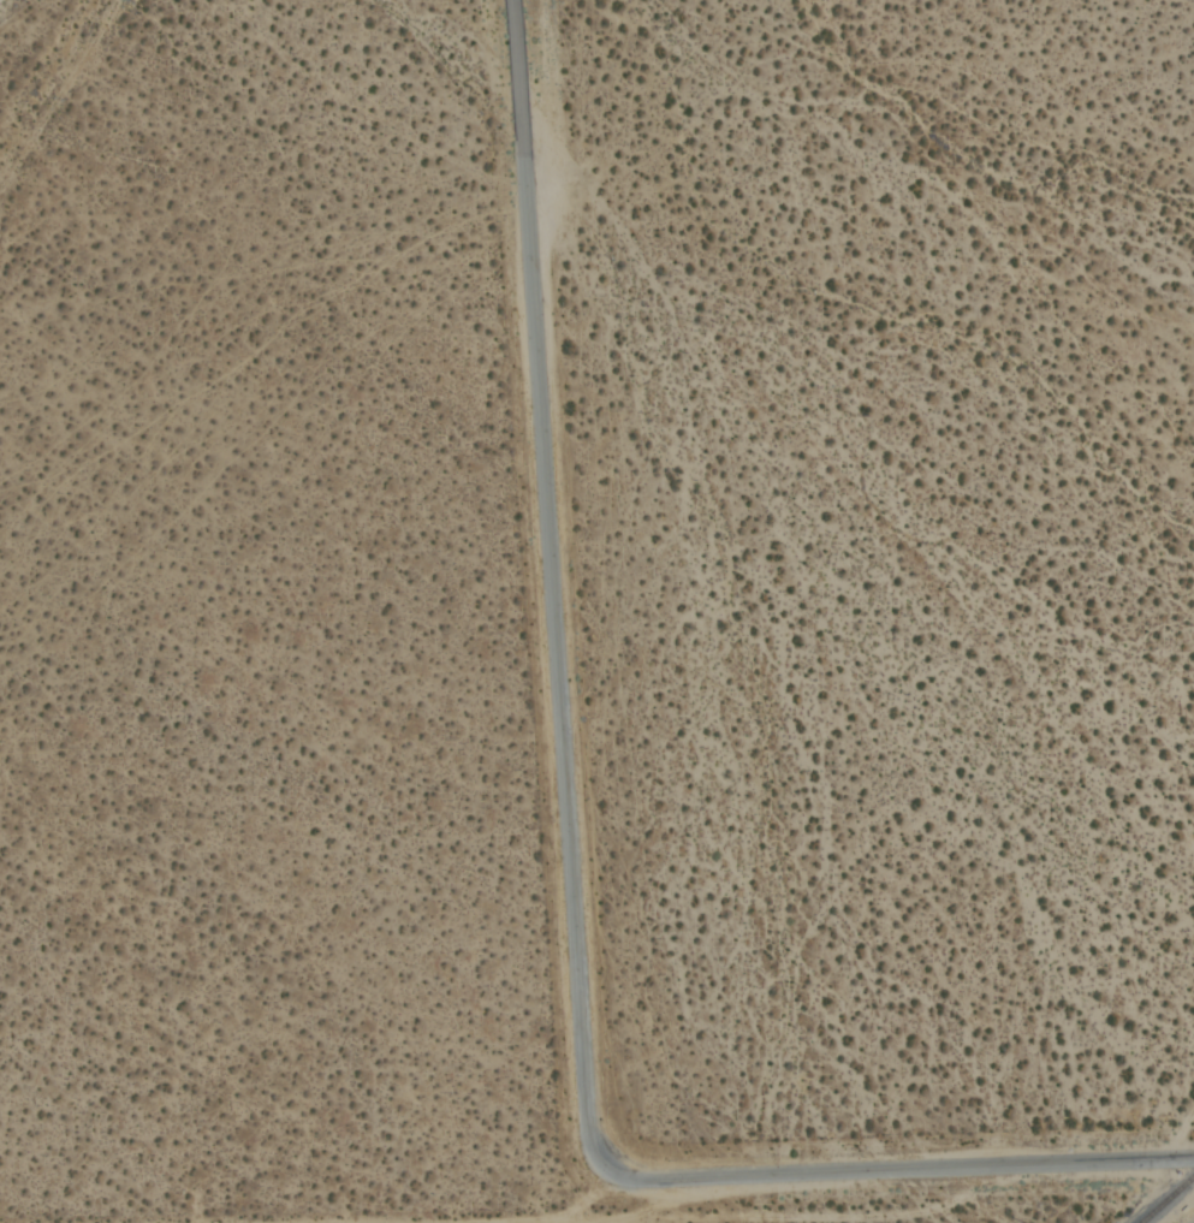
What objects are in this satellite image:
road: (552, 583)
road: (895, 1171)
road: (587, 1192)
road: (678, 1200)
railway: (1169, 1200)
road: (824, 1218)

